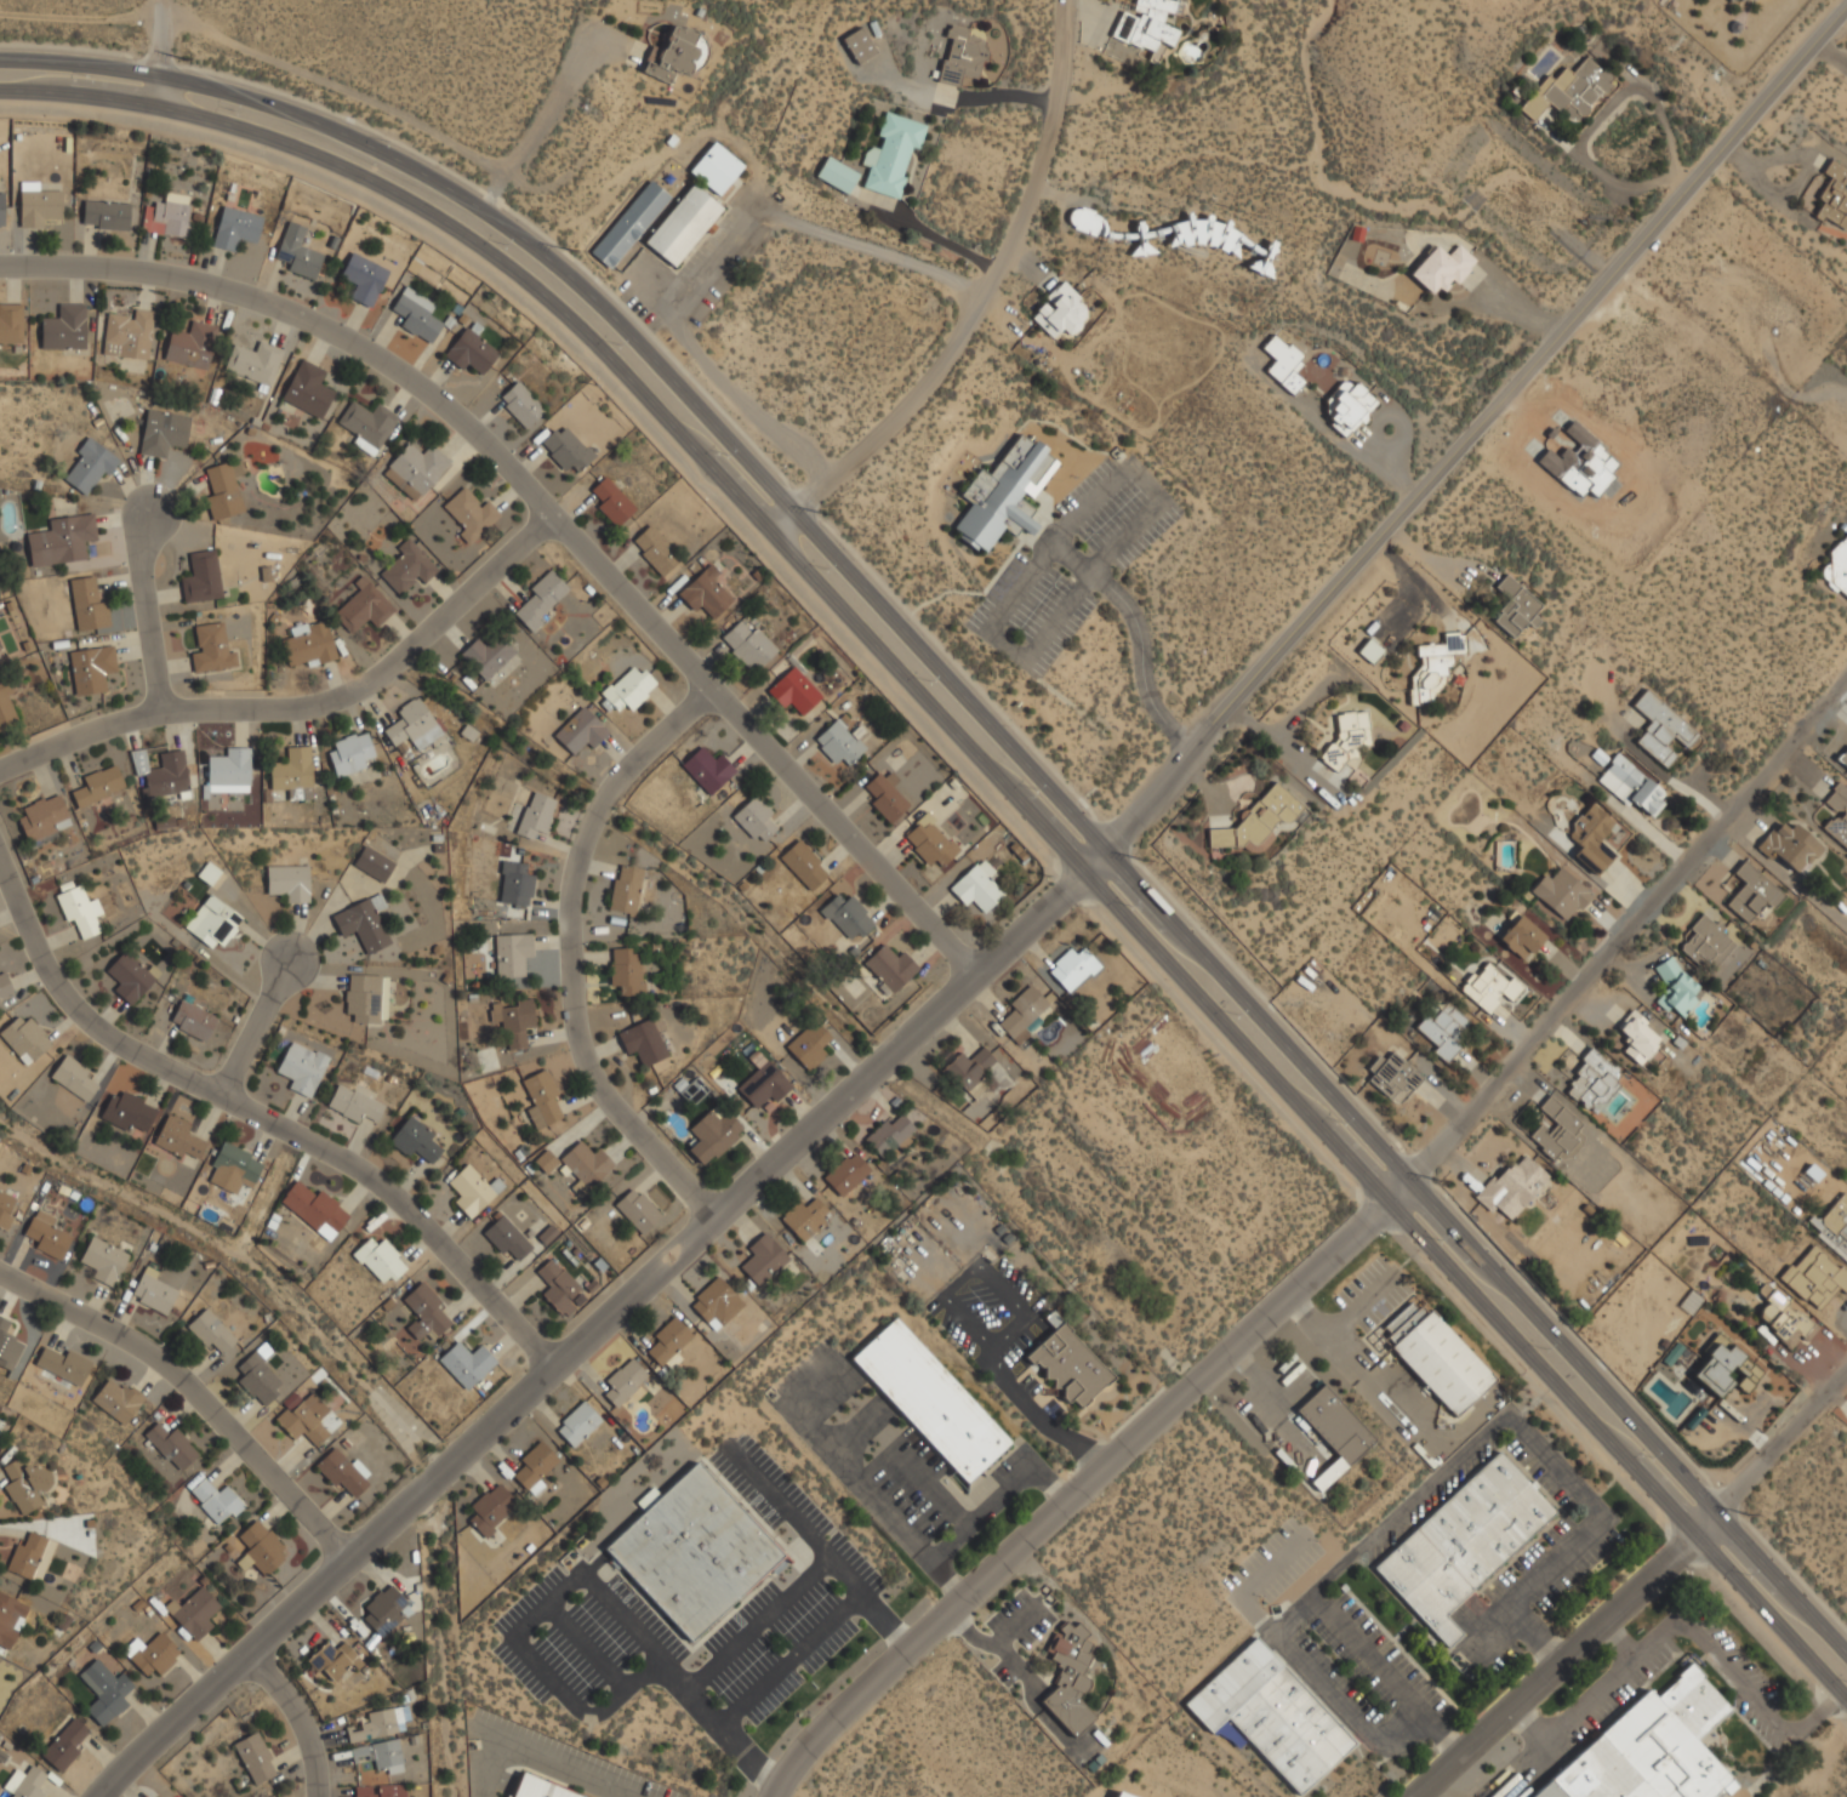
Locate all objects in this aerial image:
building: (1731, 1)
building: (1145, 24)
building: (859, 46)
road: (160, 53)
building: (675, 55)
building: (960, 56)
power tower: (183, 58)
building: (1568, 91)
road: (410, 119)
building: (891, 154)
building: (716, 169)
building: (837, 175)
road: (496, 193)
building: (1834, 196)
building: (38, 205)
building: (1, 210)
building: (106, 215)
building: (166, 216)
building: (1085, 221)
building: (629, 224)
building: (683, 226)
building: (235, 228)
power tower: (570, 250)
building: (297, 252)
road: (717, 268)
building: (1441, 268)
building: (364, 279)
road: (979, 301)
building: (1060, 310)
building: (416, 314)
building: (11, 323)
building: (64, 327)
building: (130, 335)
building: (192, 343)
building: (471, 352)
building: (255, 361)
building: (1290, 382)
building: (308, 388)
building: (520, 405)
building: (1346, 406)
building: (367, 423)
building: (164, 432)
building: (566, 449)
building: (90, 467)
building: (416, 468)
road: (1146, 486)
building: (224, 487)
building: (1007, 492)
building: (611, 502)
building: (471, 513)
power tower: (822, 513)
road: (551, 517)
building: (63, 540)
road: (1050, 543)
building: (654, 549)
parking lot: (1072, 564)
building: (407, 566)
building: (1836, 567)
building: (270, 572)
building: (203, 576)
road: (1090, 580)
building: (705, 593)
building: (542, 598)
building: (89, 604)
building: (1515, 606)
building: (363, 607)
road: (147, 611)
road: (1139, 635)
building: (308, 644)
building: (748, 645)
road: (1003, 645)
building: (213, 646)
building: (486, 656)
building: (1435, 663)
building: (91, 667)
building: (629, 686)
building: (793, 691)
building: (6, 706)
road: (304, 707)
building: (414, 724)
building: (1661, 728)
building: (581, 730)
road: (998, 731)
building: (1349, 738)
building: (839, 743)
building: (350, 753)
building: (1843, 758)
building: (708, 768)
building: (230, 770)
building: (293, 771)
building: (163, 774)
road: (997, 775)
building: (98, 786)
building: (1632, 786)
building: (887, 797)
road: (997, 799)
building: (1839, 812)
building: (536, 814)
building: (44, 817)
building: (756, 817)
building: (1258, 820)
building: (1591, 839)
building: (930, 843)
building: (1790, 846)
power tower: (1145, 861)
building: (375, 862)
building: (804, 863)
building: (210, 872)
building: (289, 880)
building: (515, 883)
building: (976, 886)
building: (626, 888)
building: (1752, 891)
building: (1561, 895)
building: (80, 911)
building: (848, 915)
building: (213, 920)
building: (363, 922)
building: (1522, 937)
road: (1617, 940)
road: (1014, 942)
building: (1708, 942)
building: (512, 953)
road: (570, 953)
building: (890, 966)
building: (1074, 966)
building: (627, 969)
building: (129, 977)
building: (1486, 985)
building: (1677, 985)
building: (5, 986)
building: (366, 998)
building: (1026, 1012)
building: (514, 1019)
building: (193, 1020)
road: (255, 1028)
building: (1443, 1028)
building: (1638, 1037)
building: (24, 1038)
building: (644, 1040)
building: (809, 1044)
building: (969, 1066)
building: (302, 1067)
building: (1393, 1076)
building: (76, 1078)
building: (764, 1080)
building: (1595, 1080)
building: (690, 1090)
building: (545, 1096)
building: (354, 1102)
building: (131, 1111)
road: (264, 1118)
building: (1557, 1130)
building: (713, 1134)
building: (891, 1135)
building: (179, 1137)
building: (416, 1140)
building: (545, 1162)
building: (586, 1163)
building: (232, 1168)
building: (848, 1173)
power tower: (1438, 1183)
building: (1513, 1188)
building: (474, 1190)
building: (6, 1206)
building: (314, 1209)
building: (638, 1209)
building: (805, 1217)
building: (1834, 1223)
building: (47, 1237)
building: (508, 1239)
building: (763, 1257)
building: (103, 1260)
building: (380, 1260)
building: (1815, 1277)
building: (559, 1288)
building: (152, 1291)
building: (717, 1302)
building: (426, 1312)
building: (1785, 1317)
building: (215, 1334)
building: (668, 1340)
building: (8, 1344)
building: (1436, 1356)
building: (466, 1363)
building: (1068, 1363)
building: (63, 1364)
building: (1726, 1369)
building: (258, 1379)
building: (625, 1381)
road: (196, 1392)
building: (116, 1398)
building: (930, 1399)
building: (304, 1419)
building: (577, 1424)
building: (1334, 1432)
building: (171, 1445)
road: (1772, 1449)
road: (1549, 1462)
building: (535, 1466)
building: (342, 1472)
building: (24, 1484)
road: (1076, 1496)
building: (646, 1499)
building: (215, 1501)
building: (491, 1508)
power tower: (1745, 1514)
building: (1463, 1542)
building: (261, 1548)
building: (694, 1551)
building: (28, 1554)
road: (1315, 1591)
building: (383, 1610)
building: (194, 1611)
building: (11, 1619)
road: (887, 1624)
road: (757, 1625)
road: (1530, 1633)
road: (586, 1648)
building: (152, 1653)
road: (1630, 1653)
road: (1370, 1658)
building: (334, 1660)
road: (1552, 1665)
building: (1070, 1677)
road: (1318, 1683)
road: (684, 1689)
building: (104, 1690)
road: (1749, 1694)
building: (1271, 1715)
road: (1573, 1715)
road: (297, 1722)
building: (377, 1724)
road: (1419, 1730)
building: (65, 1745)
building: (1648, 1748)
building: (380, 1755)
building: (255, 1758)
road: (747, 1759)
building: (24, 1784)
building: (537, 1789)
building: (380, 1790)
building: (1122, 1795)

